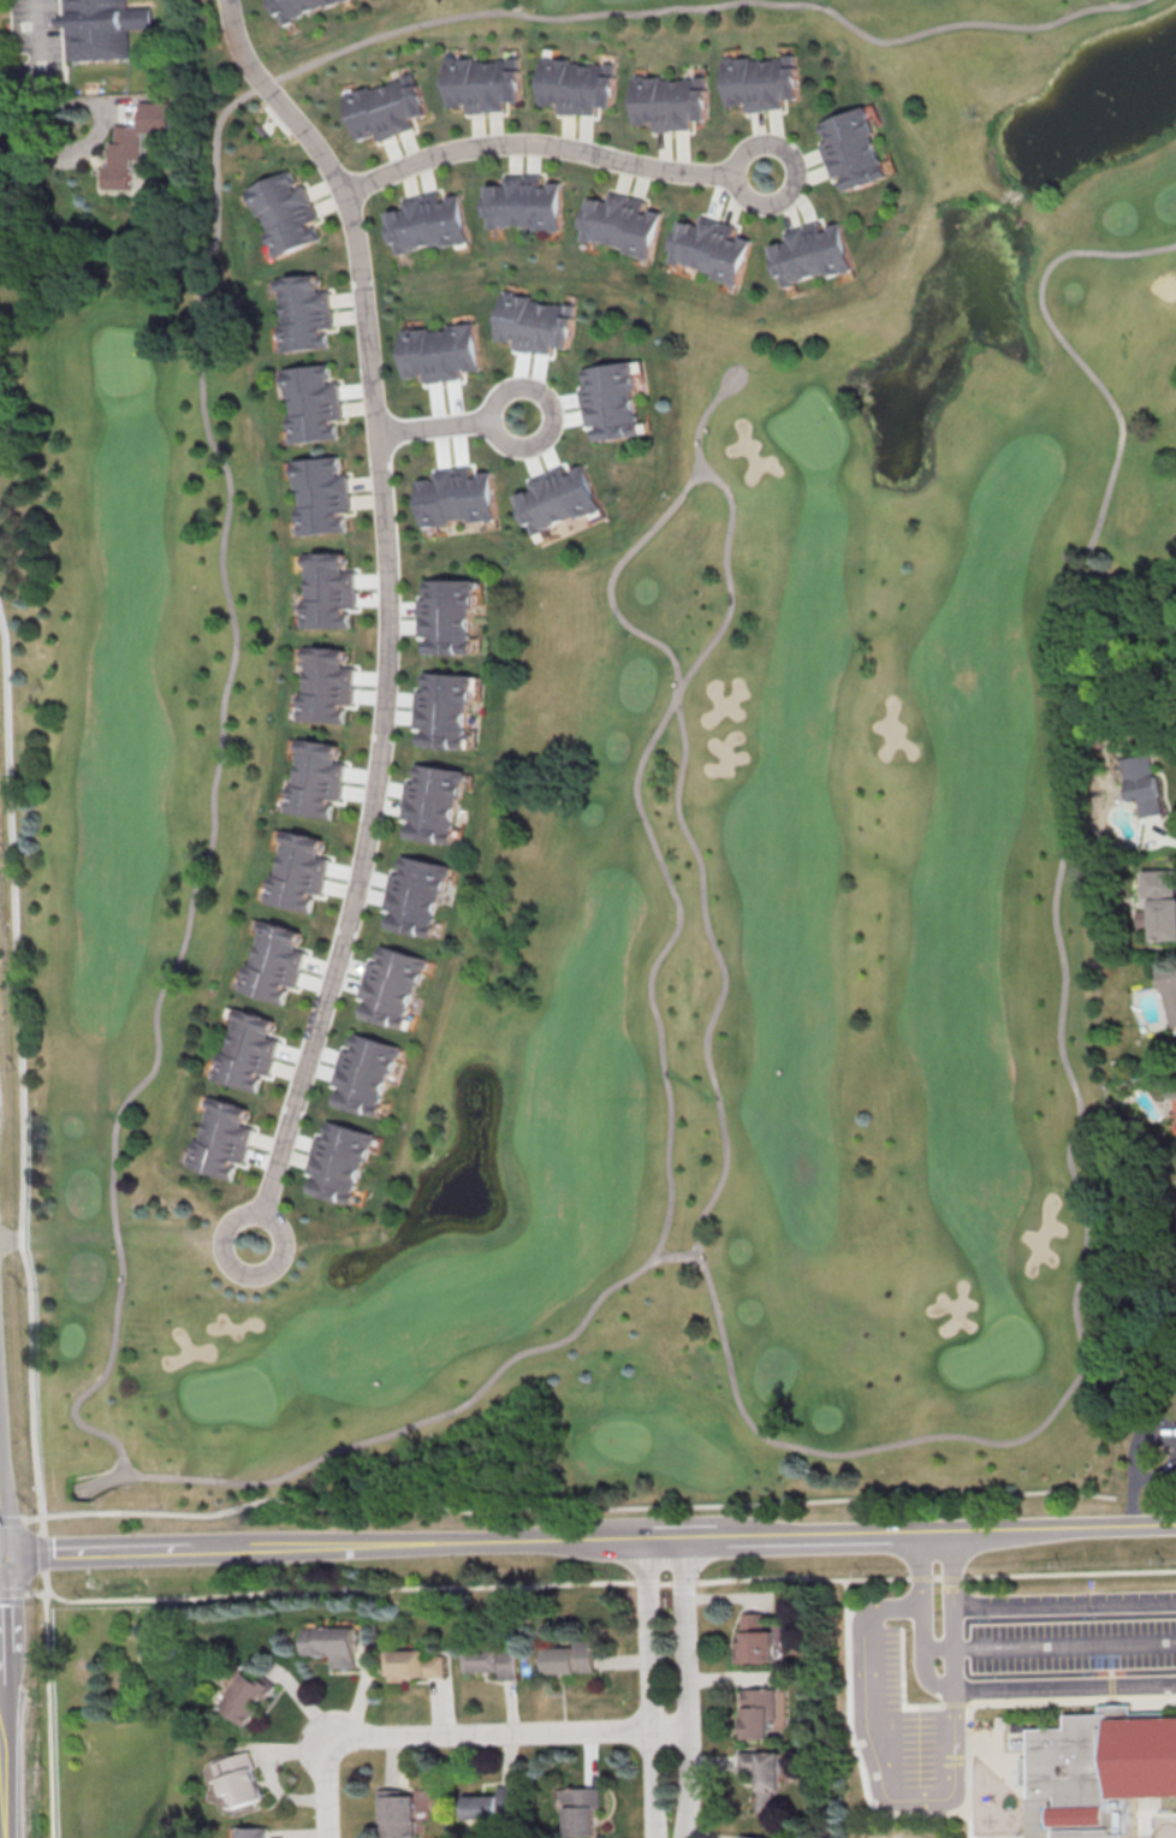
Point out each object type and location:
building: (295, 7)
building: (101, 26)
road: (46, 60)
building: (481, 81)
building: (761, 81)
building: (576, 82)
building: (669, 100)
building: (385, 107)
road: (99, 130)
building: (135, 136)
road: (539, 142)
building: (855, 144)
road: (742, 172)
building: (522, 200)
building: (284, 208)
building: (622, 220)
building: (426, 221)
building: (711, 247)
building: (810, 253)
building: (302, 313)
building: (536, 321)
building: (440, 351)
road: (198, 374)
building: (611, 398)
building: (311, 401)
road: (702, 415)
road: (439, 425)
road: (501, 428)
building: (323, 493)
building: (457, 496)
building: (554, 497)
building: (327, 588)
road: (387, 598)
building: (449, 613)
building: (326, 683)
building: (446, 710)
building: (315, 779)
building: (1144, 783)
building: (434, 800)
park: (634, 855)
building: (298, 871)
building: (416, 890)
building: (1160, 903)
building: (274, 962)
building: (392, 982)
building: (1169, 990)
road: (653, 1001)
building: (249, 1049)
building: (366, 1068)
road: (18, 1072)
building: (220, 1136)
building: (339, 1158)
road: (228, 1249)
road: (677, 1253)
road: (1075, 1297)
road: (1133, 1471)
road: (575, 1510)
road: (11, 1518)
road: (678, 1537)
road: (90, 1551)
road: (42, 1552)
road: (610, 1582)
road: (12, 1591)
road: (36, 1591)
road: (1065, 1608)
building: (754, 1640)
building: (332, 1646)
road: (1, 1653)
building: (571, 1658)
parking lot: (1017, 1662)
building: (493, 1664)
building: (415, 1667)
road: (652, 1688)
road: (690, 1688)
road: (975, 1692)
building: (250, 1696)
road: (47, 1702)
road: (907, 1704)
road: (1010, 1708)
road: (1118, 1708)
building: (760, 1710)
road: (1151, 1713)
park: (120, 1720)
building: (1006, 1727)
building: (1022, 1732)
road: (465, 1733)
road: (859, 1745)
road: (5, 1761)
road: (997, 1761)
building: (762, 1773)
building: (1104, 1773)
building: (243, 1781)
road: (937, 1803)
building: (493, 1804)
building: (581, 1810)
building: (400, 1813)
road: (1157, 1819)
building: (255, 1833)
building: (749, 1837)

